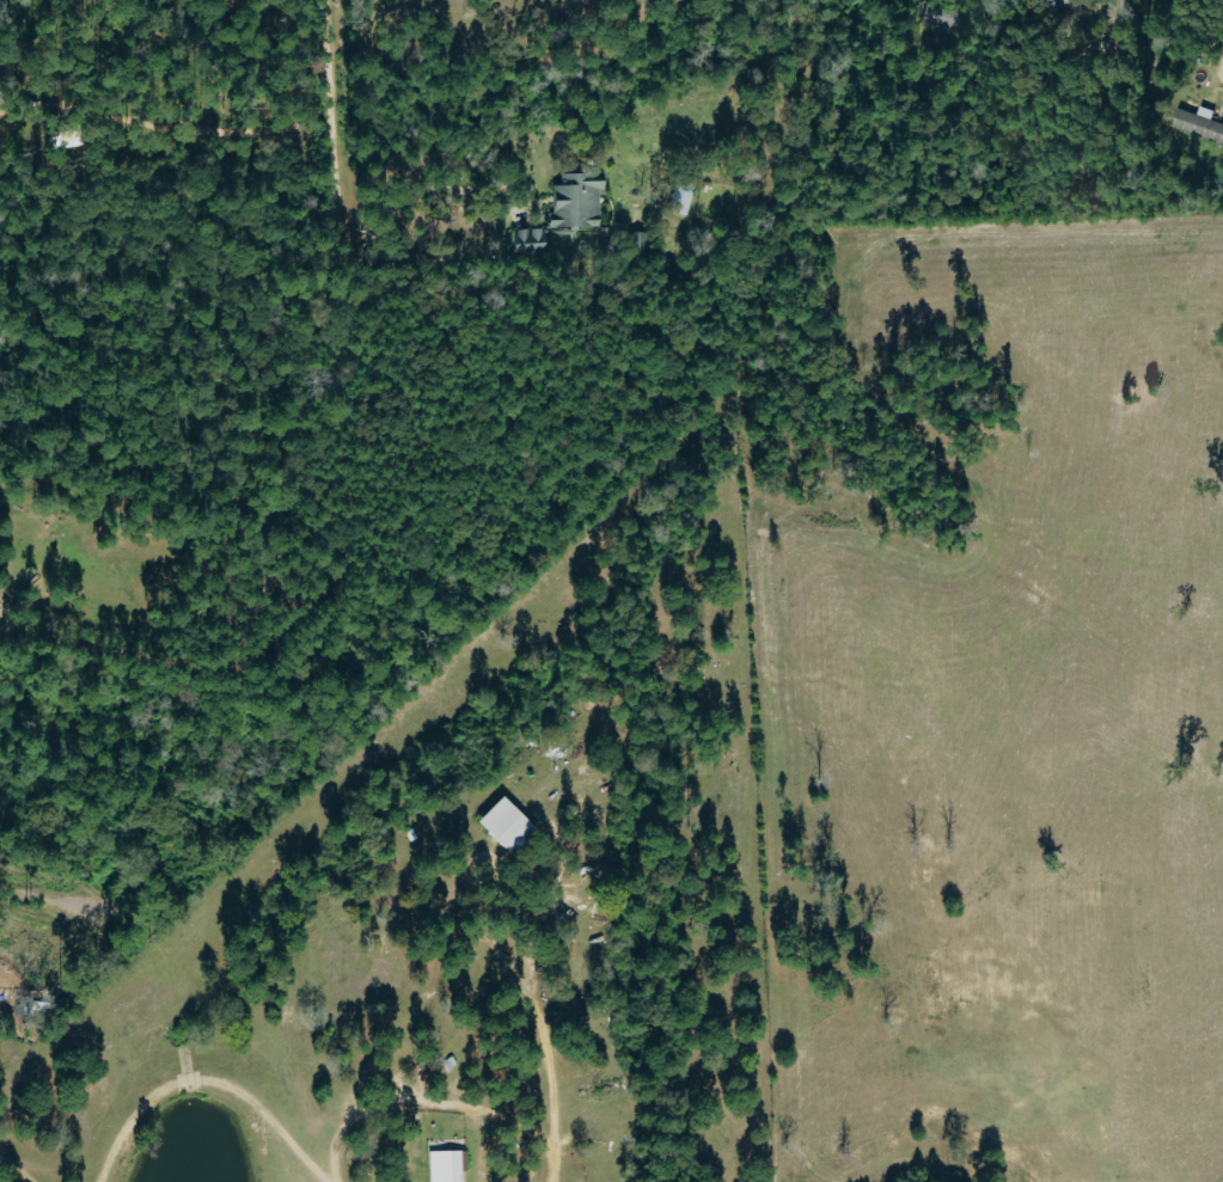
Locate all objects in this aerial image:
road: (328, 99)
building: (1198, 124)
building: (679, 196)
road: (409, 198)
building: (574, 202)
building: (528, 241)
road: (117, 773)
building: (499, 823)
road: (29, 894)
building: (31, 1008)
road: (204, 1077)
road: (542, 1082)
building: (444, 1165)
road: (7, 1177)

